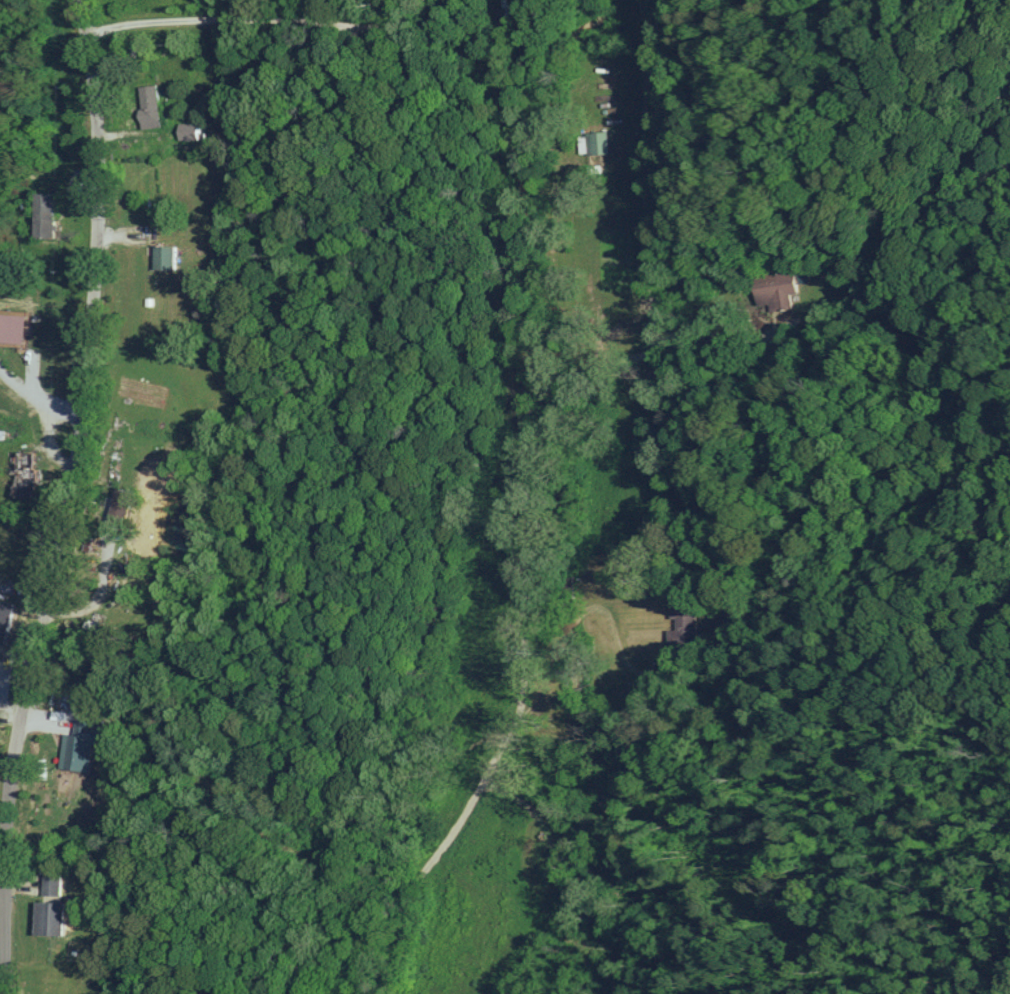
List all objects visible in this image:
road: (252, 16)
building: (147, 105)
building: (190, 131)
building: (597, 142)
building: (41, 214)
building: (162, 257)
building: (774, 290)
building: (11, 327)
road: (528, 438)
road: (72, 498)
building: (4, 618)
building: (683, 619)
building: (79, 745)
road: (188, 746)
road: (433, 857)
building: (50, 884)
building: (47, 918)

